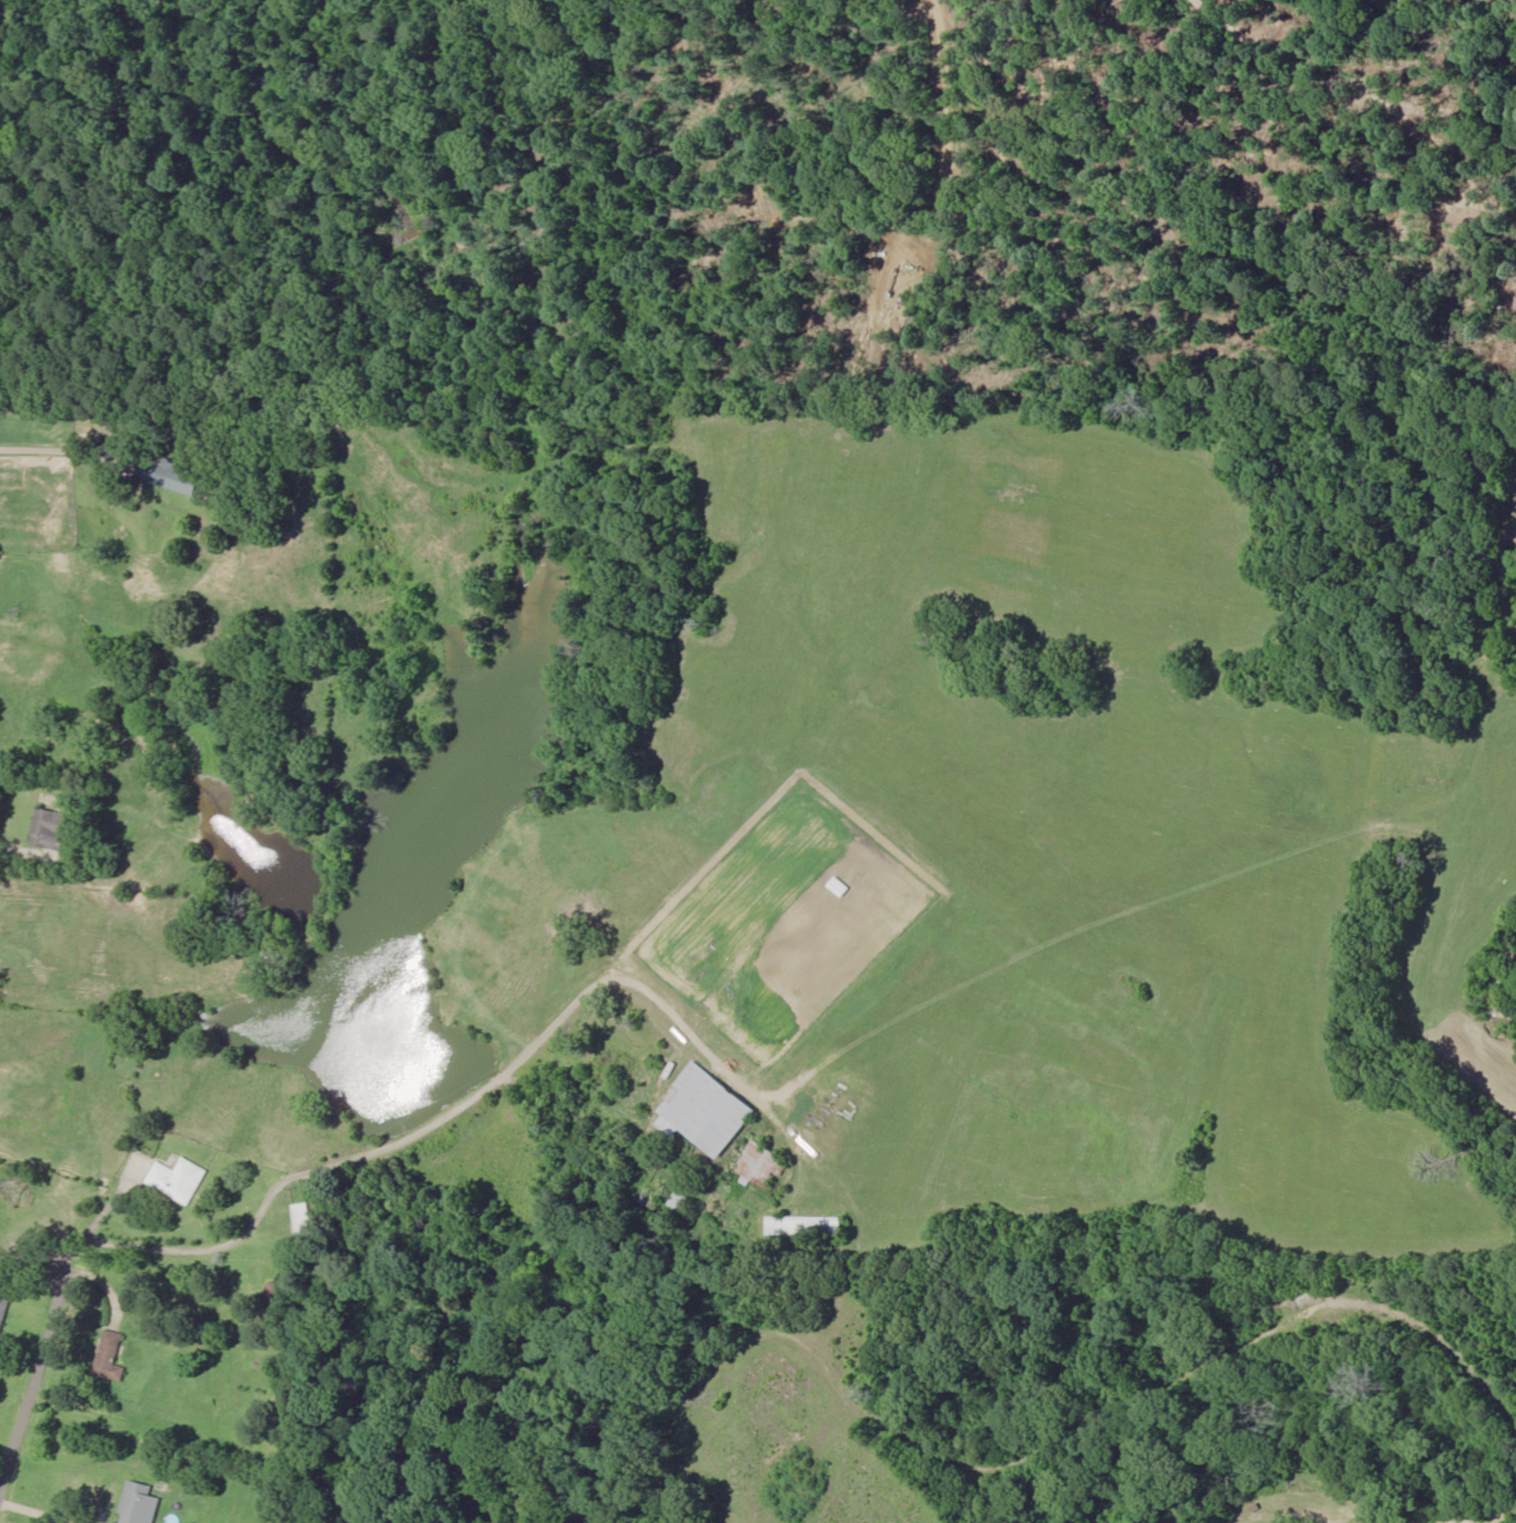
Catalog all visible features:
building: (108, 415)
road: (111, 456)
building: (174, 474)
building: (50, 829)
building: (707, 1109)
building: (762, 1163)
building: (178, 1179)
building: (680, 1200)
building: (805, 1225)
building: (305, 1227)
building: (278, 1291)
road: (17, 1294)
building: (3, 1308)
building: (111, 1356)
road: (1029, 1432)
park: (1318, 1475)
building: (136, 1502)

